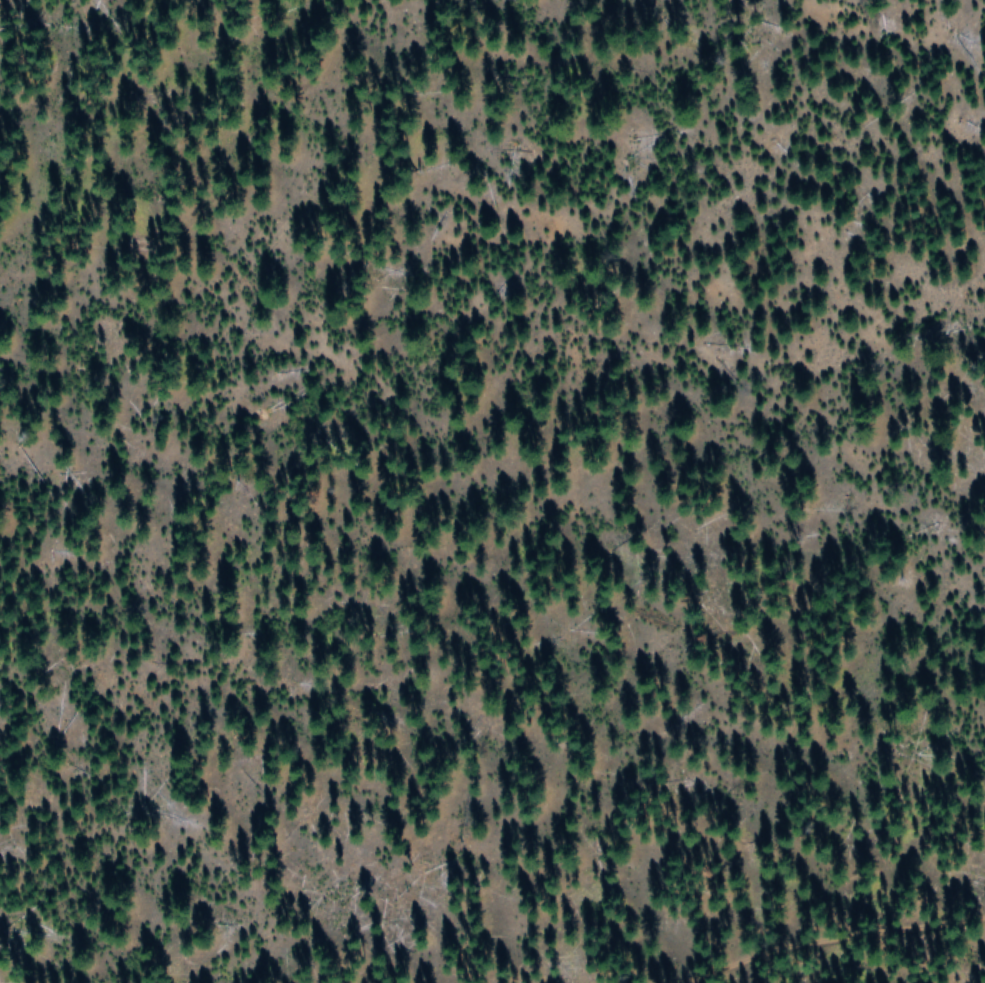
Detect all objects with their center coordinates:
road: (879, 959)

